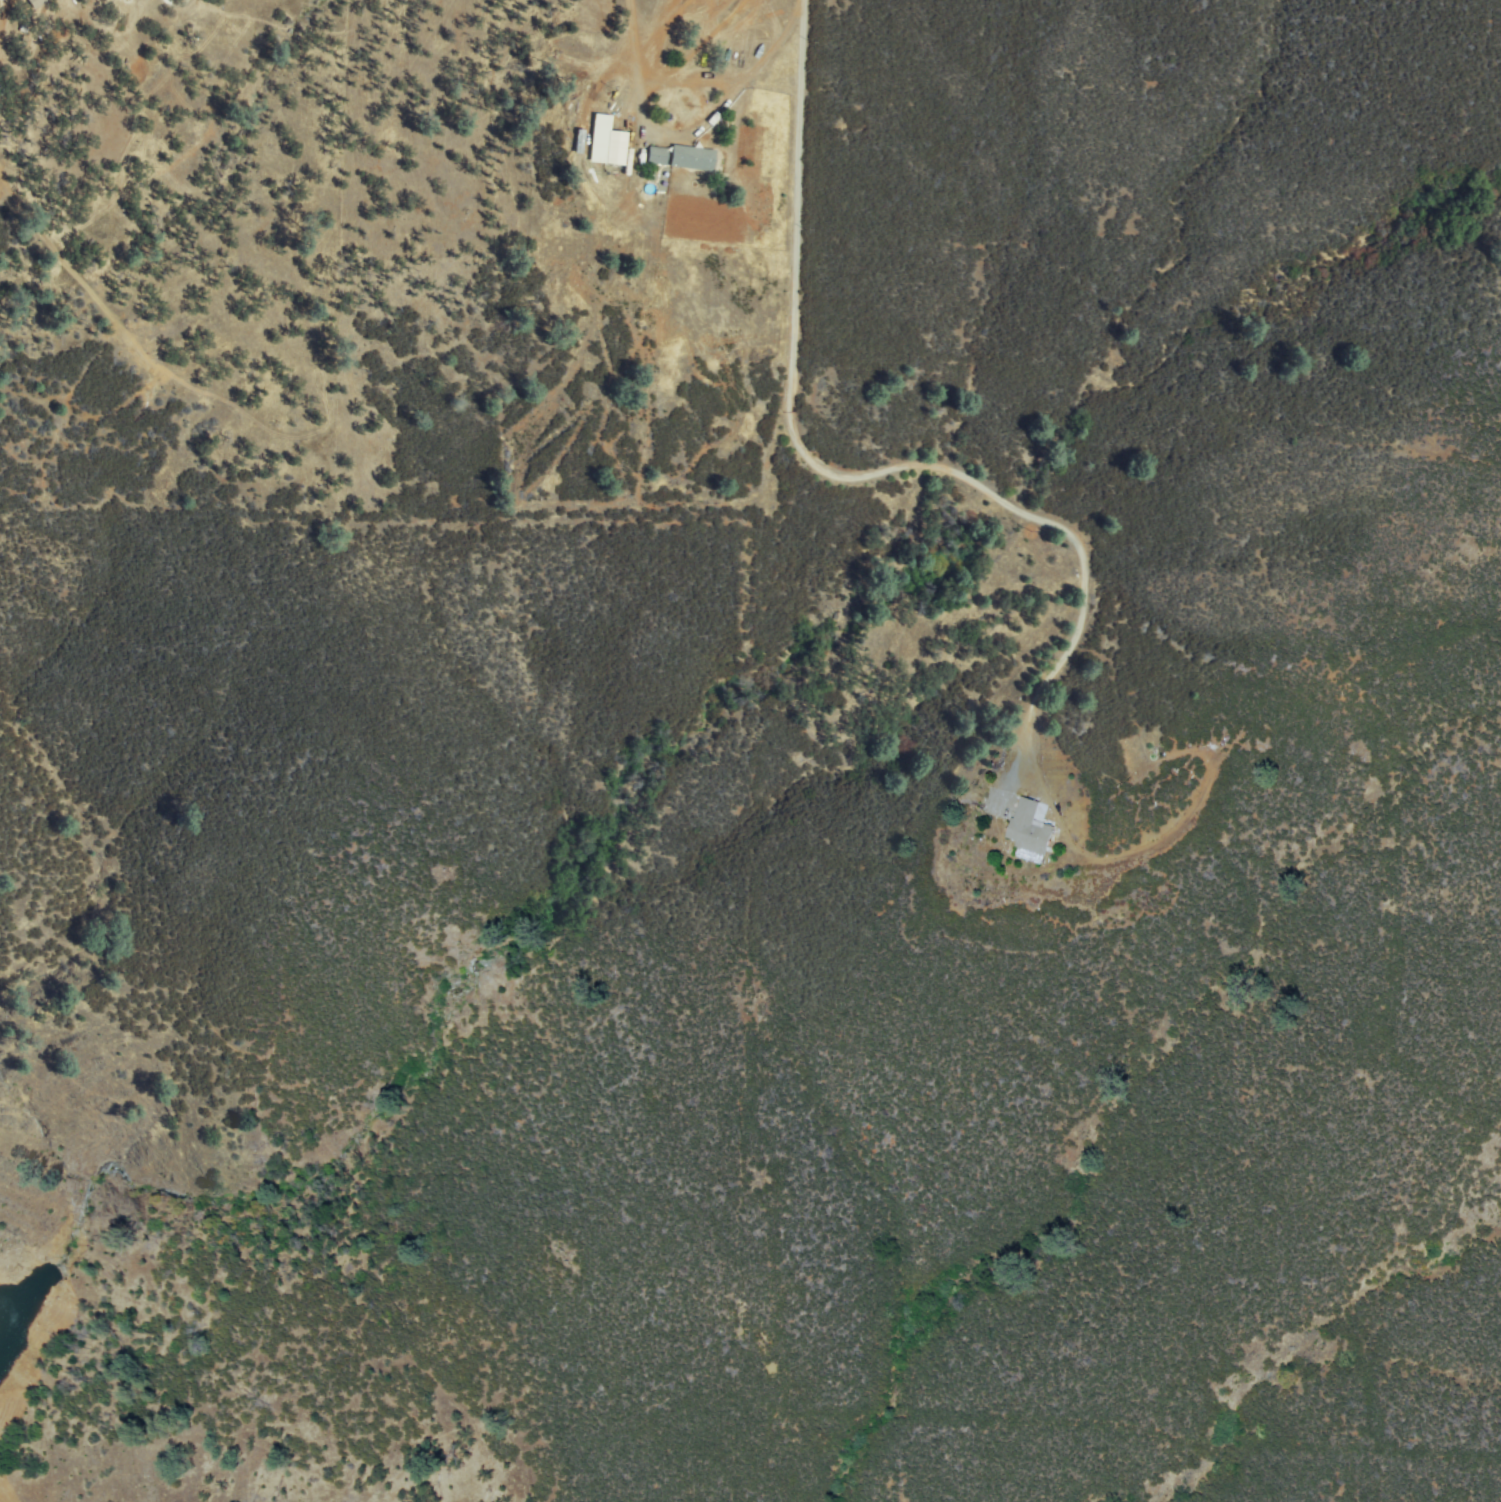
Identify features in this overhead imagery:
building: (36, 3)
building: (23, 39)
building: (614, 148)
building: (658, 157)
building: (693, 160)
building: (1028, 832)

